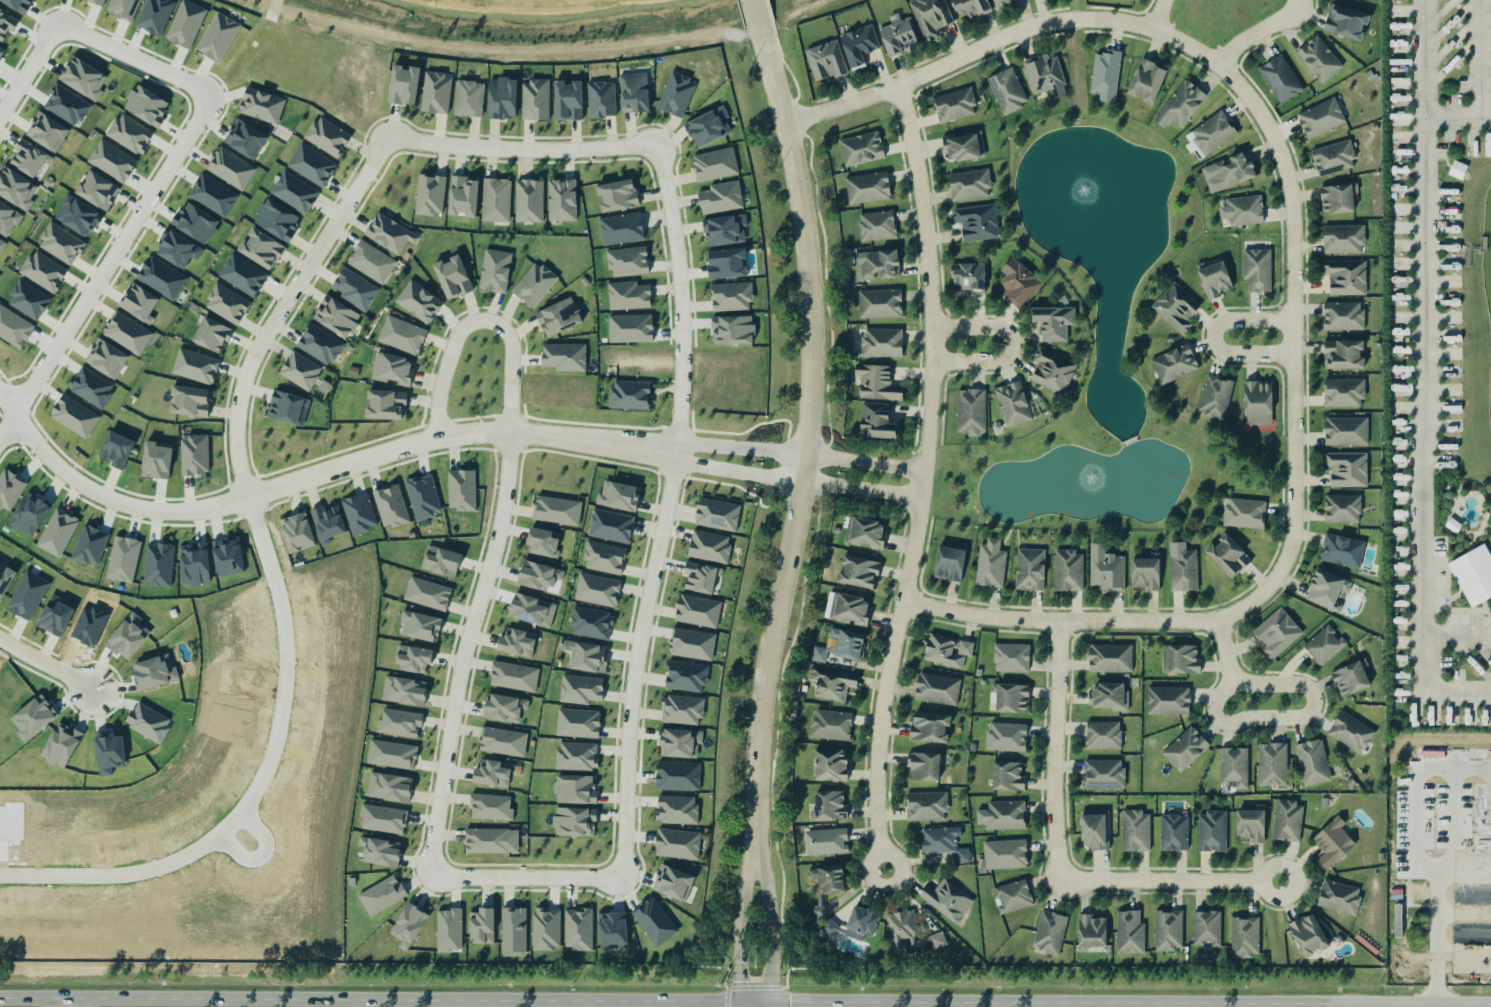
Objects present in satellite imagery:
building: (98, 1)
building: (1000, 2)
building: (18, 4)
building: (971, 7)
building: (123, 8)
road: (753, 14)
road: (1157, 14)
building: (155, 15)
building: (930, 16)
building: (1345, 21)
building: (7, 23)
building: (185, 23)
road: (1257, 31)
building: (898, 34)
building: (218, 36)
building: (859, 44)
road: (981, 47)
building: (1, 49)
building: (1322, 57)
road: (1481, 58)
road: (1424, 59)
building: (825, 60)
building: (1045, 75)
building: (1105, 75)
building: (83, 78)
building: (1280, 78)
building: (1146, 80)
building: (403, 85)
building: (1007, 90)
building: (436, 92)
building: (634, 92)
building: (676, 94)
building: (468, 98)
building: (502, 98)
building: (534, 99)
building: (601, 99)
building: (567, 100)
building: (954, 104)
building: (67, 105)
building: (261, 105)
building: (1181, 105)
building: (146, 106)
building: (1321, 117)
road: (1457, 117)
building: (708, 126)
building: (47, 131)
building: (130, 133)
building: (1210, 134)
building: (327, 136)
building: (245, 138)
building: (964, 146)
road: (176, 147)
building: (861, 148)
building: (1333, 157)
building: (29, 158)
building: (112, 160)
building: (312, 164)
building: (714, 164)
building: (230, 168)
building: (1228, 172)
fountain: (1087, 177)
fountain: (1087, 178)
building: (969, 184)
building: (867, 187)
building: (16, 188)
building: (98, 190)
building: (295, 192)
building: (430, 194)
building: (617, 194)
building: (213, 195)
building: (463, 195)
building: (721, 197)
building: (1336, 198)
building: (496, 199)
building: (529, 200)
building: (562, 200)
road: (345, 207)
building: (1242, 210)
building: (78, 215)
building: (8, 219)
building: (277, 219)
building: (195, 222)
building: (977, 222)
building: (877, 225)
building: (621, 228)
building: (725, 229)
building: (389, 233)
building: (1343, 238)
building: (61, 243)
building: (2, 245)
building: (261, 248)
building: (178, 249)
building: (371, 261)
building: (628, 261)
building: (726, 263)
building: (877, 263)
building: (1257, 269)
building: (495, 270)
building: (43, 271)
building: (243, 275)
building: (453, 276)
building: (1345, 276)
building: (161, 277)
building: (968, 277)
building: (1215, 279)
building: (1018, 282)
building: (534, 284)
building: (355, 289)
building: (628, 295)
building: (731, 296)
building: (28, 300)
building: (419, 301)
building: (139, 302)
building: (226, 303)
building: (880, 303)
building: (1175, 307)
building: (1343, 315)
building: (336, 316)
building: (559, 316)
road: (480, 320)
building: (1054, 322)
building: (14, 327)
building: (630, 328)
building: (732, 329)
building: (127, 332)
building: (211, 334)
building: (402, 335)
road: (1210, 338)
park: (1100, 341)
building: (882, 342)
building: (320, 344)
road: (1005, 345)
building: (1343, 354)
building: (564, 356)
building: (107, 358)
building: (1174, 363)
building: (195, 366)
building: (393, 369)
building: (300, 370)
building: (1052, 370)
road: (944, 373)
building: (877, 382)
building: (91, 386)
building: (1343, 392)
building: (630, 394)
building: (1215, 396)
road: (1280, 399)
building: (190, 400)
building: (1257, 402)
building: (1012, 403)
building: (386, 404)
building: (288, 407)
building: (971, 411)
road: (940, 412)
building: (74, 415)
building: (876, 422)
building: (1346, 431)
road: (806, 432)
road: (1422, 438)
road: (1126, 440)
road: (1087, 441)
road: (682, 444)
building: (118, 448)
road: (1000, 448)
road: (1205, 450)
road: (387, 451)
building: (194, 455)
building: (156, 459)
road: (679, 463)
road: (864, 465)
building: (1346, 468)
fountain: (1086, 474)
fountain: (1086, 475)
road: (1280, 479)
road: (922, 481)
road: (1292, 488)
building: (9, 489)
building: (461, 489)
road: (860, 491)
building: (423, 496)
building: (619, 496)
road: (93, 497)
building: (391, 506)
road: (665, 508)
building: (1342, 508)
building: (557, 509)
building: (1244, 512)
building: (359, 513)
building: (717, 514)
road: (928, 521)
building: (328, 523)
building: (610, 525)
building: (58, 532)
building: (297, 532)
building: (866, 532)
building: (543, 542)
building: (90, 545)
building: (709, 546)
building: (1342, 550)
building: (1228, 555)
building: (228, 556)
building: (604, 557)
building: (123, 558)
building: (441, 561)
building: (949, 562)
building: (990, 563)
building: (158, 564)
building: (194, 564)
building: (1030, 569)
building: (1106, 569)
building: (1068, 570)
building: (1183, 570)
building: (858, 571)
building: (1145, 573)
building: (1473, 574)
building: (538, 575)
building: (700, 577)
building: (5, 578)
building: (597, 589)
building: (1328, 589)
road: (919, 591)
building: (427, 593)
building: (27, 594)
building: (852, 608)
building: (532, 609)
building: (698, 610)
building: (591, 622)
building: (422, 625)
building: (1277, 632)
road: (1456, 632)
building: (129, 635)
building: (517, 642)
building: (691, 643)
building: (1324, 645)
building: (840, 646)
building: (946, 649)
building: (414, 657)
building: (589, 657)
building: (1011, 657)
building: (1110, 657)
building: (1183, 659)
road: (40, 674)
building: (513, 676)
building: (686, 676)
building: (1350, 678)
building: (832, 682)
building: (937, 688)
building: (581, 689)
building: (404, 690)
building: (1109, 696)
building: (1012, 698)
building: (1168, 700)
building: (504, 707)
building: (682, 709)
road: (1260, 719)
building: (399, 722)
building: (578, 722)
building: (831, 724)
building: (929, 726)
building: (1351, 732)
building: (1103, 735)
building: (1006, 736)
building: (502, 741)
building: (680, 742)
road: (449, 746)
building: (1185, 748)
road: (1052, 750)
building: (391, 754)
building: (576, 755)
building: (1312, 762)
building: (830, 764)
building: (1272, 764)
building: (924, 766)
building: (1234, 766)
building: (492, 773)
building: (1103, 773)
building: (678, 775)
building: (1007, 775)
building: (389, 786)
building: (575, 788)
building: (830, 804)
building: (926, 805)
building: (491, 806)
building: (676, 809)
building: (1002, 815)
building: (383, 818)
road: (1454, 819)
building: (1287, 820)
building: (575, 821)
building: (1250, 825)
building: (1094, 829)
building: (1135, 830)
building: (1212, 831)
building: (1173, 832)
building: (491, 840)
building: (825, 841)
building: (943, 842)
building: (677, 843)
building: (1332, 843)
building: (380, 851)
building: (1005, 854)
road: (1413, 858)
road: (1463, 869)
building: (830, 879)
road: (1166, 880)
building: (674, 882)
building: (381, 894)
building: (1013, 896)
building: (1339, 897)
building: (947, 899)
building: (819, 910)
road: (1463, 912)
road: (738, 919)
road: (769, 919)
building: (654, 921)
building: (861, 922)
building: (409, 925)
building: (483, 925)
building: (546, 928)
building: (829, 928)
building: (1206, 928)
building: (448, 929)
building: (513, 929)
building: (578, 929)
building: (1168, 929)
building: (612, 930)
building: (1049, 932)
building: (1129, 932)
building: (907, 933)
building: (1092, 933)
building: (1308, 934)
building: (1246, 936)
road: (1463, 952)
traffic signals: (739, 980)
road: (369, 998)
road: (65, 1001)
road: (754, 1001)
traffic signals: (789, 1001)
road: (1069, 1002)
road: (739, 1004)
road: (768, 1004)
road: (1420, 1004)
road: (1481, 1004)
road: (1369, 1005)
road: (1370, 1005)

